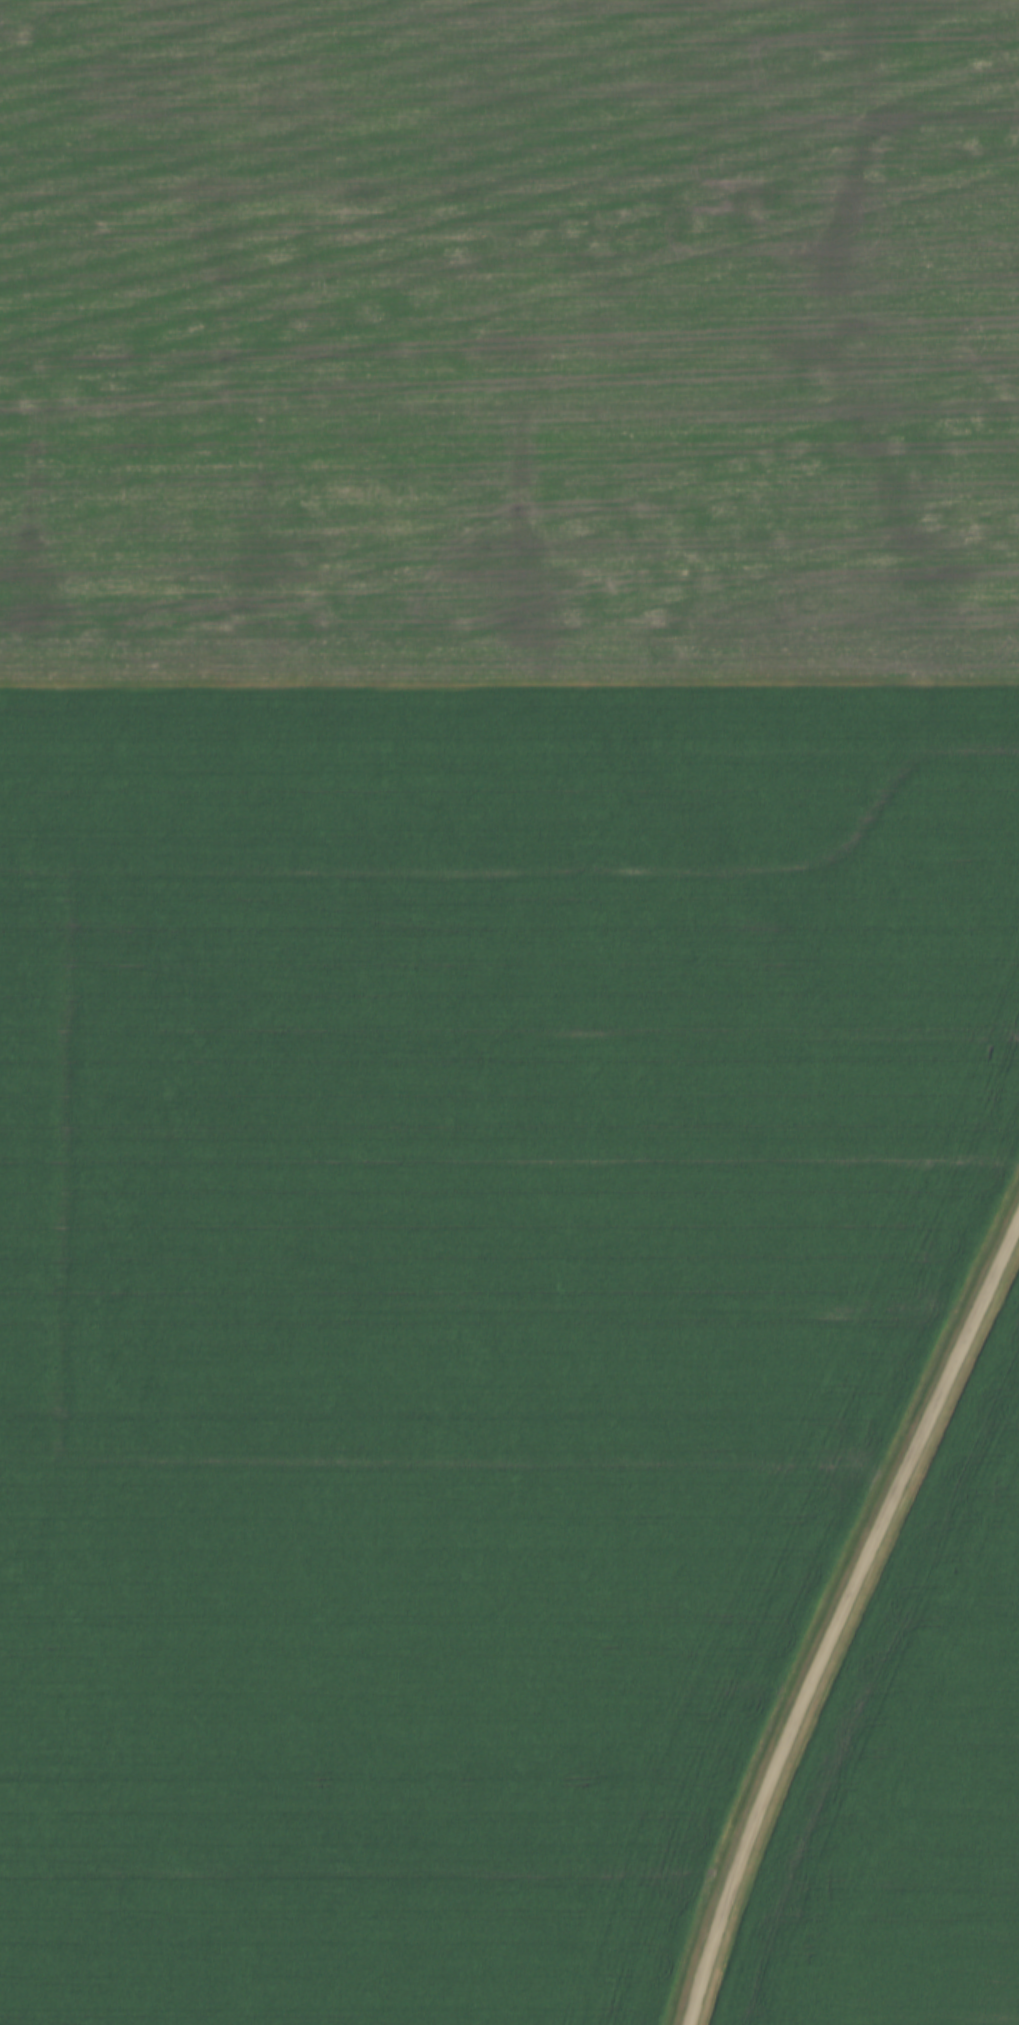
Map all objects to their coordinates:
road: (509, 686)
road: (842, 1623)

